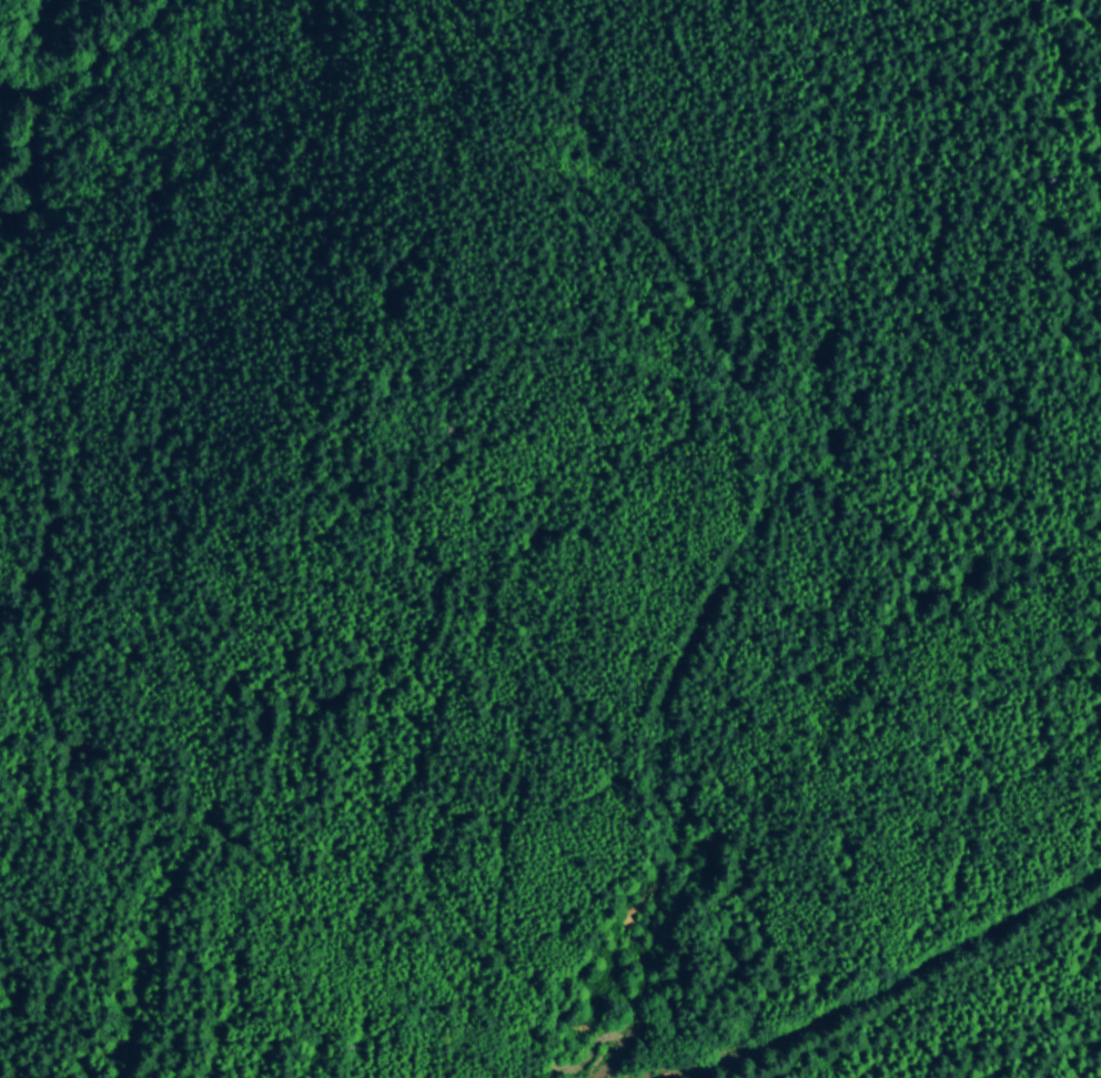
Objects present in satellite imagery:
road: (89, 58)
road: (660, 787)

